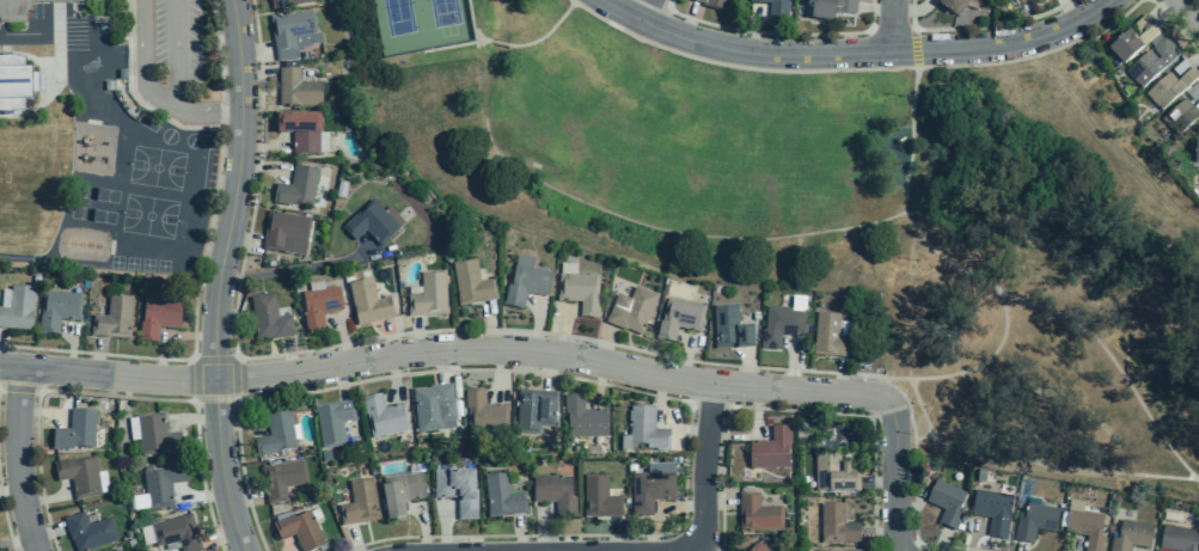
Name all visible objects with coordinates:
road: (570, 1)
building: (287, 2)
road: (659, 4)
building: (712, 4)
building: (950, 5)
building: (20, 8)
building: (830, 8)
road: (1163, 8)
road: (644, 10)
building: (776, 10)
road: (875, 10)
road: (912, 10)
road: (1068, 11)
road: (1187, 12)
road: (689, 22)
park: (420, 24)
road: (892, 24)
road: (1175, 24)
building: (1146, 25)
road: (981, 26)
road: (473, 29)
road: (754, 30)
road: (914, 30)
road: (1185, 31)
building: (289, 32)
road: (546, 32)
road: (778, 32)
road: (899, 32)
road: (501, 43)
road: (448, 45)
building: (1124, 48)
road: (427, 49)
road: (856, 49)
road: (219, 50)
road: (175, 53)
road: (255, 53)
parking lot: (171, 59)
road: (916, 59)
road: (1195, 61)
building: (1151, 62)
road: (856, 69)
road: (256, 75)
building: (16, 84)
building: (1168, 88)
building: (296, 90)
road: (151, 93)
building: (1194, 94)
road: (134, 97)
road: (222, 114)
building: (1179, 116)
building: (300, 131)
road: (911, 135)
road: (261, 146)
building: (1195, 146)
road: (262, 166)
building: (296, 188)
road: (910, 212)
park: (842, 213)
building: (369, 224)
building: (285, 233)
road: (241, 240)
road: (366, 249)
road: (302, 267)
road: (218, 276)
building: (471, 283)
building: (526, 284)
building: (579, 292)
building: (429, 295)
building: (367, 304)
building: (319, 306)
building: (18, 308)
building: (57, 310)
building: (631, 311)
building: (679, 318)
building: (112, 319)
building: (157, 319)
building: (269, 319)
road: (1004, 324)
building: (781, 325)
road: (490, 326)
road: (536, 327)
road: (500, 329)
building: (730, 329)
road: (558, 330)
road: (167, 335)
road: (194, 336)
road: (417, 336)
building: (828, 336)
road: (0, 338)
road: (390, 338)
road: (342, 339)
road: (604, 344)
road: (72, 347)
road: (443, 349)
road: (96, 356)
road: (288, 356)
road: (235, 357)
road: (192, 359)
road: (685, 360)
road: (196, 361)
road: (1113, 361)
road: (441, 365)
road: (791, 366)
road: (550, 369)
road: (745, 369)
road: (500, 372)
road: (393, 376)
street lamp: (876, 380)
road: (339, 381)
road: (598, 381)
road: (617, 386)
road: (880, 386)
road: (20, 388)
road: (111, 394)
road: (237, 399)
road: (195, 400)
road: (710, 403)
building: (433, 406)
road: (756, 409)
building: (534, 410)
road: (794, 410)
road: (38, 411)
building: (484, 412)
building: (384, 416)
building: (583, 417)
road: (192, 420)
building: (332, 422)
road: (660, 422)
road: (235, 426)
building: (644, 430)
building: (75, 431)
building: (155, 435)
building: (275, 435)
building: (770, 449)
road: (18, 459)
road: (1032, 463)
road: (703, 469)
building: (832, 472)
road: (894, 475)
building: (79, 476)
building: (281, 479)
road: (879, 482)
building: (161, 485)
building: (457, 490)
road: (11, 491)
building: (652, 491)
building: (400, 492)
building: (555, 494)
road: (201, 495)
building: (501, 496)
building: (599, 497)
road: (48, 498)
road: (244, 500)
road: (718, 501)
building: (359, 503)
building: (946, 503)
road: (661, 510)
building: (992, 510)
building: (757, 514)
road: (5, 521)
building: (1034, 521)
building: (836, 524)
road: (422, 527)
road: (443, 527)
building: (1085, 527)
road: (545, 529)
building: (300, 531)
road: (47, 532)
building: (88, 532)
building: (176, 533)
road: (879, 533)
road: (518, 534)
road: (221, 535)
road: (614, 535)
building: (1131, 535)
road: (972, 537)
road: (16, 538)
road: (354, 539)
building: (1177, 539)
road: (940, 540)
road: (916, 546)
road: (706, 547)
building: (757, 547)
road: (1020, 547)
road: (35, 550)
building: (116, 550)
building: (120, 550)
road: (697, 550)
building: (849, 550)

